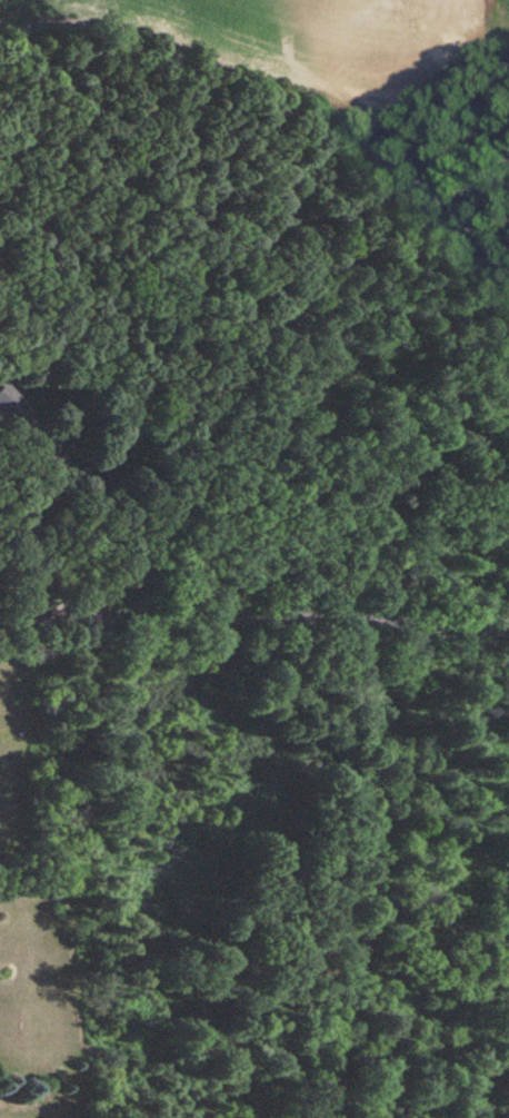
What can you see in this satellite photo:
road: (81, 532)
road: (255, 624)

